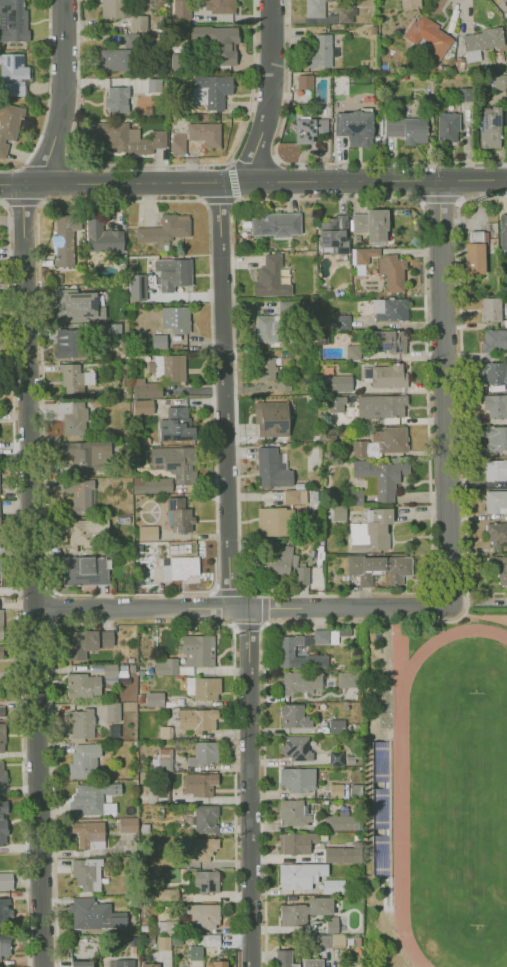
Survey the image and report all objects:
building: (501, 1)
building: (407, 3)
building: (219, 5)
building: (111, 8)
building: (180, 9)
building: (314, 11)
building: (13, 20)
building: (138, 22)
building: (428, 36)
building: (218, 42)
building: (480, 42)
building: (320, 52)
building: (111, 59)
building: (12, 74)
building: (303, 82)
building: (499, 82)
building: (210, 90)
building: (116, 99)
building: (8, 124)
building: (354, 127)
building: (447, 127)
building: (487, 127)
building: (308, 129)
building: (406, 129)
building: (196, 136)
building: (129, 137)
road: (253, 181)
building: (276, 223)
building: (372, 224)
building: (166, 230)
building: (505, 231)
building: (103, 236)
building: (335, 236)
building: (65, 238)
building: (476, 253)
building: (365, 254)
building: (392, 272)
building: (172, 276)
building: (269, 277)
building: (136, 286)
building: (66, 306)
building: (287, 307)
building: (492, 308)
building: (393, 309)
building: (176, 320)
building: (343, 322)
building: (271, 328)
building: (109, 330)
building: (494, 340)
building: (160, 342)
building: (388, 343)
building: (65, 346)
building: (353, 352)
building: (174, 368)
building: (265, 369)
building: (495, 372)
building: (388, 376)
building: (75, 379)
road: (460, 381)
building: (284, 382)
building: (336, 383)
building: (145, 389)
road: (443, 393)
building: (335, 403)
building: (496, 405)
building: (381, 406)
building: (142, 408)
building: (178, 410)
building: (270, 419)
building: (78, 420)
building: (177, 432)
building: (494, 436)
building: (393, 438)
building: (361, 449)
building: (86, 460)
building: (177, 463)
building: (495, 467)
building: (273, 469)
road: (226, 475)
road: (30, 476)
building: (381, 480)
building: (158, 486)
building: (78, 495)
building: (294, 496)
building: (355, 499)
building: (495, 501)
building: (338, 512)
building: (180, 517)
building: (274, 522)
building: (356, 532)
building: (377, 532)
building: (496, 533)
building: (81, 535)
building: (148, 535)
building: (0, 546)
building: (282, 560)
building: (180, 568)
building: (380, 569)
building: (501, 570)
building: (86, 571)
building: (302, 574)
road: (16, 583)
road: (240, 608)
road: (484, 617)
road: (502, 618)
building: (0, 622)
road: (223, 622)
road: (262, 625)
road: (264, 626)
building: (329, 634)
building: (84, 644)
building: (197, 649)
building: (0, 651)
building: (287, 652)
building: (167, 668)
building: (110, 671)
building: (351, 680)
building: (299, 683)
building: (83, 687)
building: (208, 689)
road: (263, 697)
building: (155, 699)
building: (1, 711)
building: (113, 712)
building: (294, 717)
building: (198, 719)
building: (80, 723)
building: (337, 725)
building: (165, 733)
building: (2, 739)
building: (299, 749)
building: (204, 753)
building: (83, 758)
building: (336, 759)
building: (165, 760)
road: (51, 766)
building: (2, 774)
building: (298, 780)
building: (201, 785)
building: (336, 791)
park: (436, 791)
road: (234, 796)
building: (89, 799)
building: (106, 804)
park: (462, 808)
building: (379, 809)
track: (401, 809)
building: (294, 812)
building: (207, 819)
building: (342, 822)
building: (5, 823)
building: (127, 825)
building: (89, 833)
building: (296, 844)
building: (203, 848)
building: (340, 854)
building: (163, 862)
building: (86, 872)
building: (301, 876)
building: (6, 882)
building: (207, 882)
building: (334, 885)
building: (164, 895)
building: (321, 905)
building: (6, 912)
building: (84, 912)
building: (204, 915)
building: (293, 915)
building: (117, 919)
building: (332, 925)
building: (165, 927)
building: (138, 929)
building: (149, 940)
building: (337, 940)
building: (213, 941)
building: (322, 941)
building: (133, 942)
building: (358, 942)
building: (164, 944)
building: (5, 947)
building: (195, 952)
building: (283, 958)
building: (314, 961)
building: (123, 963)
building: (215, 964)
building: (80, 965)
building: (152, 965)

